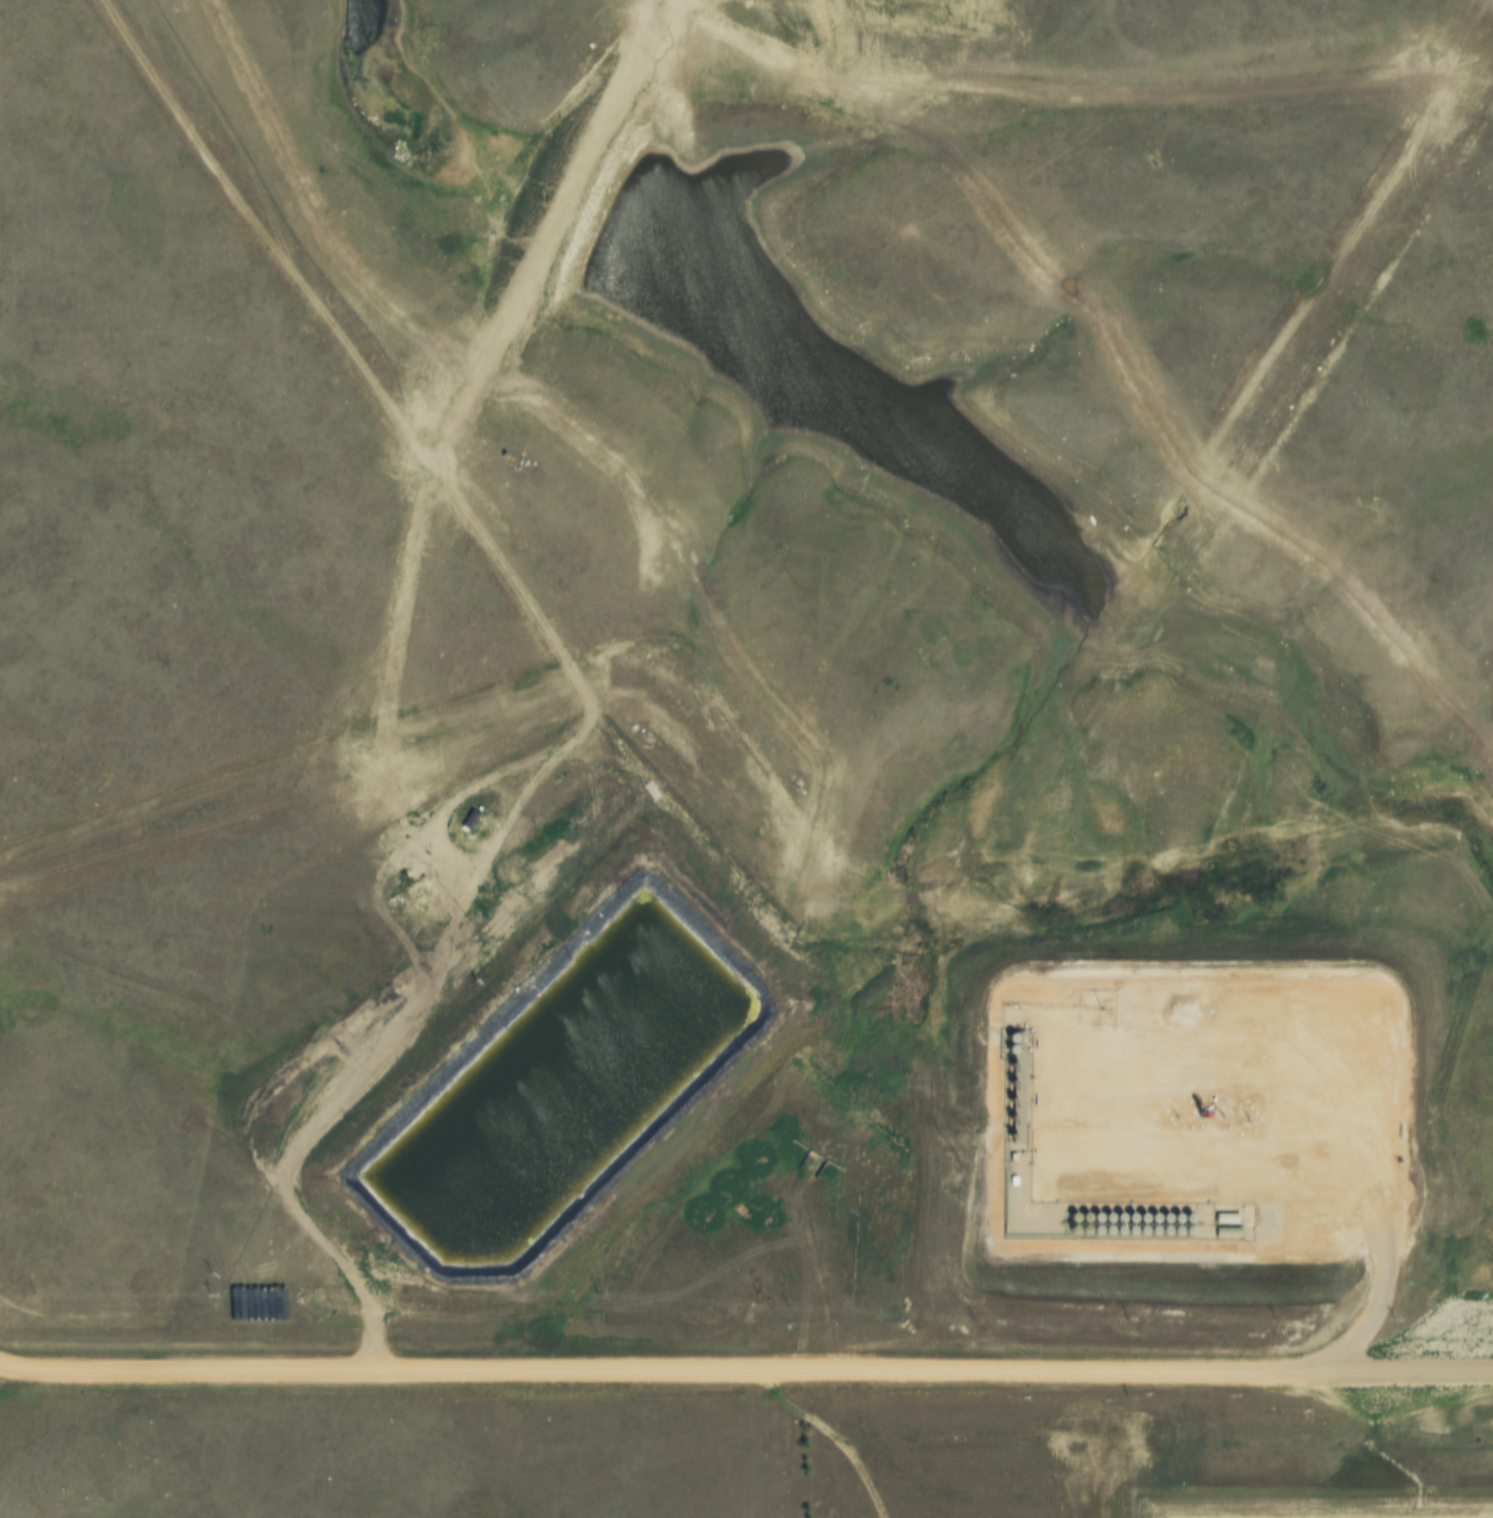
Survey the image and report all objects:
road: (721, 1378)

